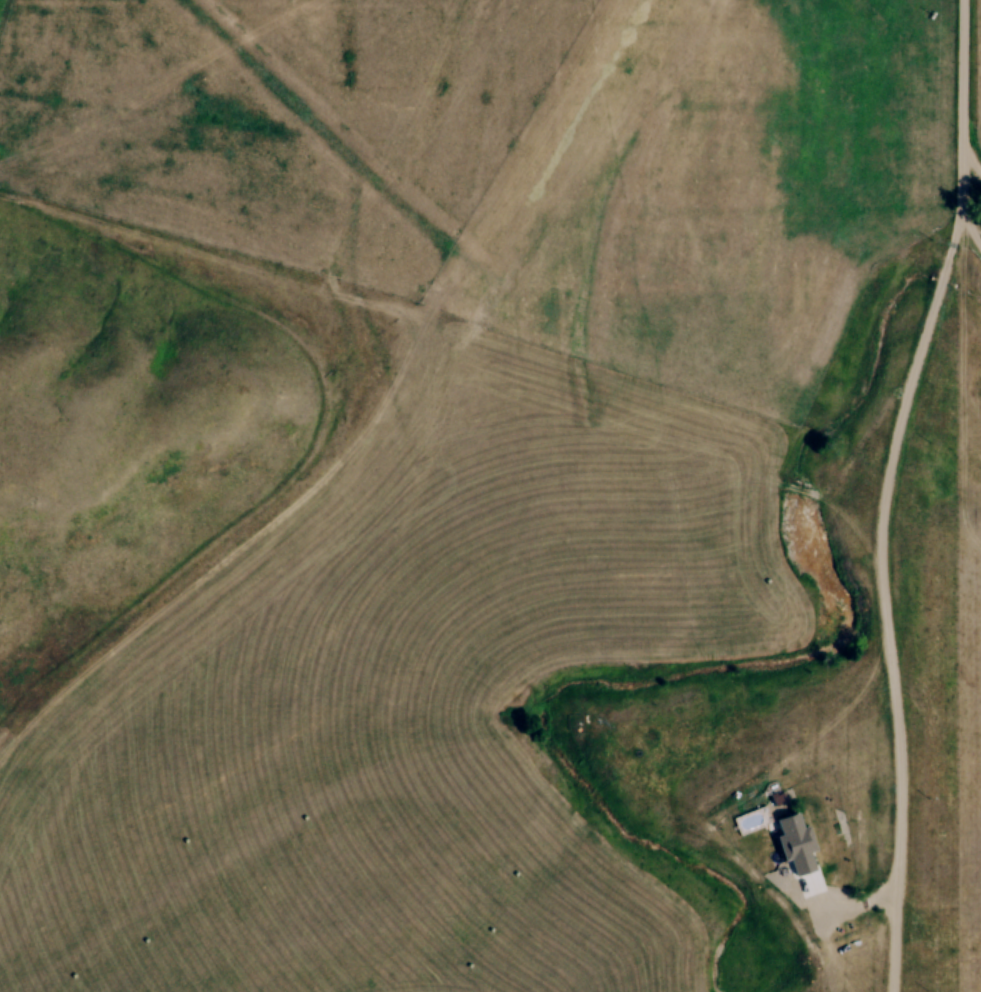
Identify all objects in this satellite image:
road: (963, 88)

